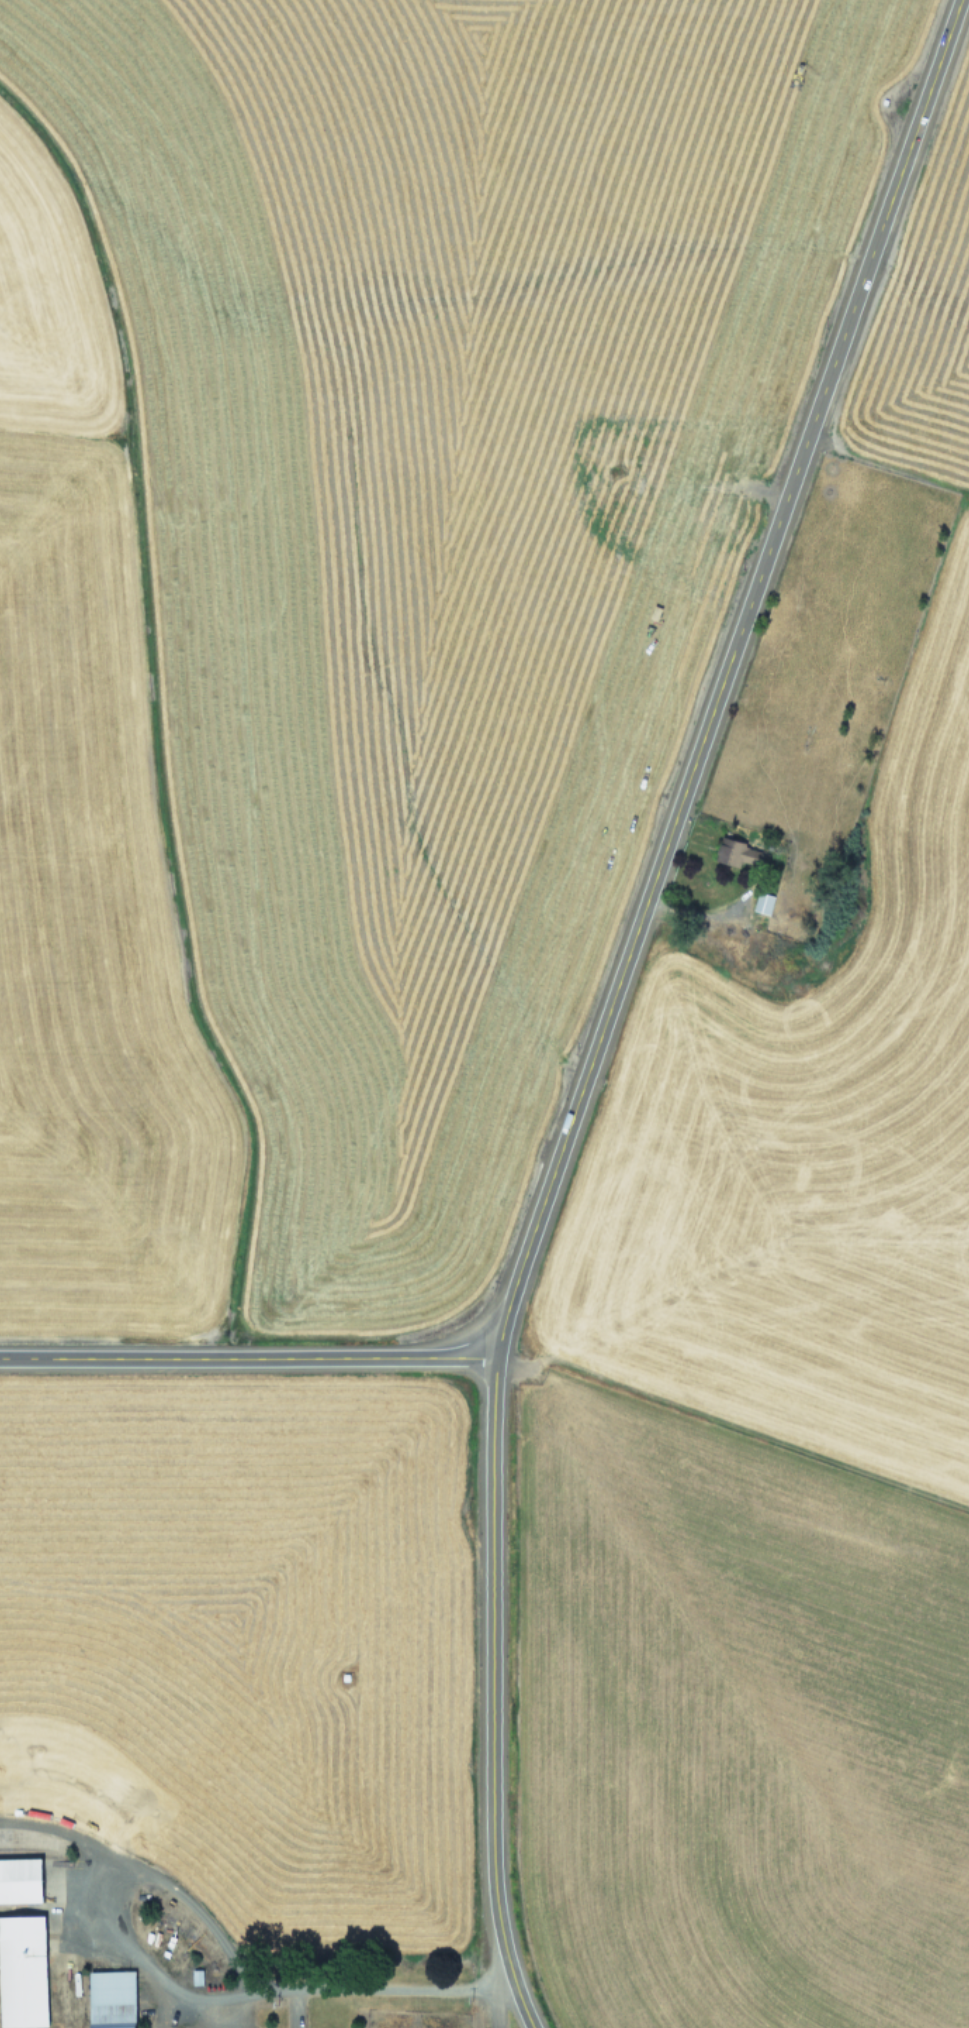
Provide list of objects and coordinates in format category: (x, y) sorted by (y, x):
road: (725, 679)
crop: (314, 863)
road: (701, 913)
crop: (786, 1306)
road: (244, 1358)
road: (489, 1696)
road: (69, 1833)
building: (23, 1972)
road: (177, 1991)
building: (112, 1999)
road: (494, 2002)

